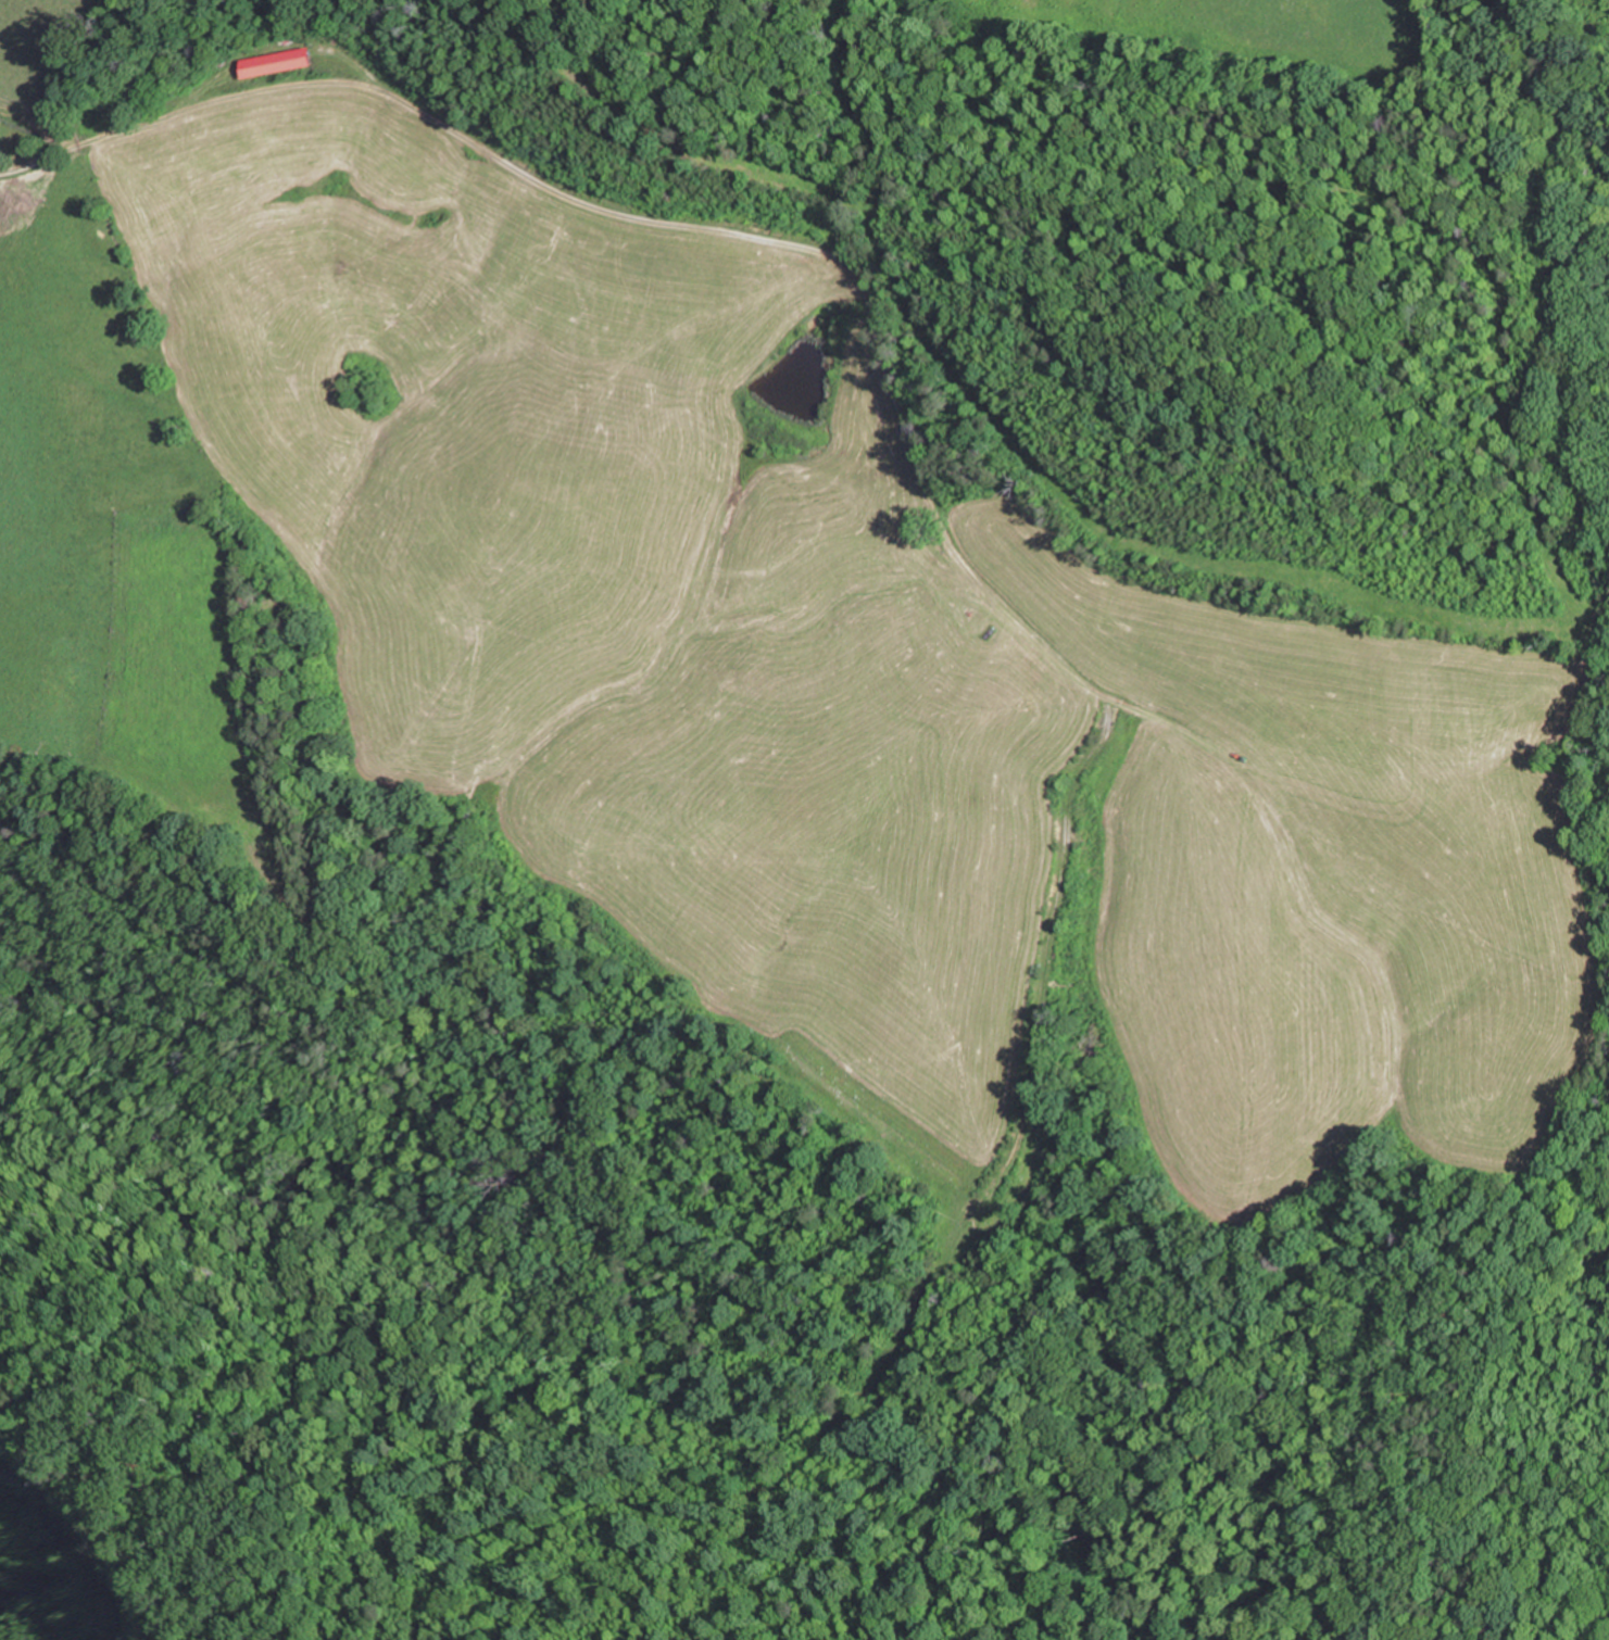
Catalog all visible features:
building: (272, 65)

